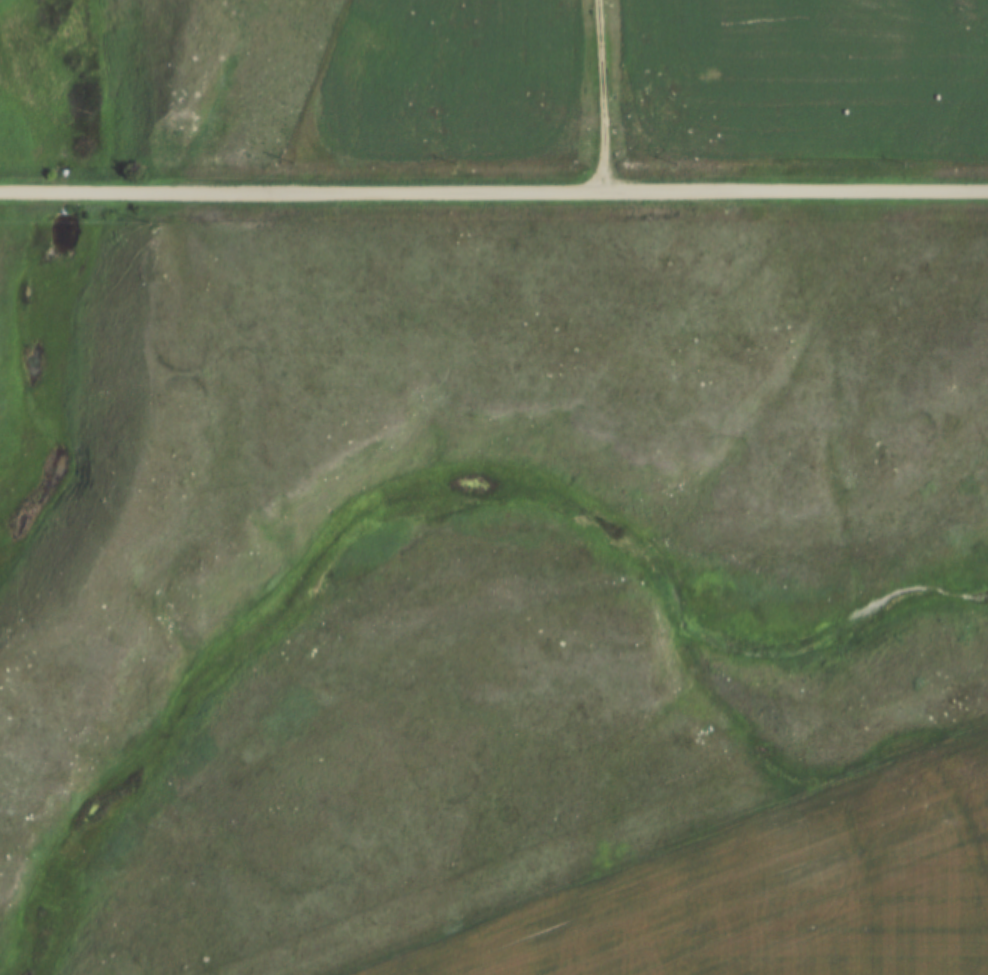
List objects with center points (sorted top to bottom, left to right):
road: (607, 95)
road: (494, 190)

